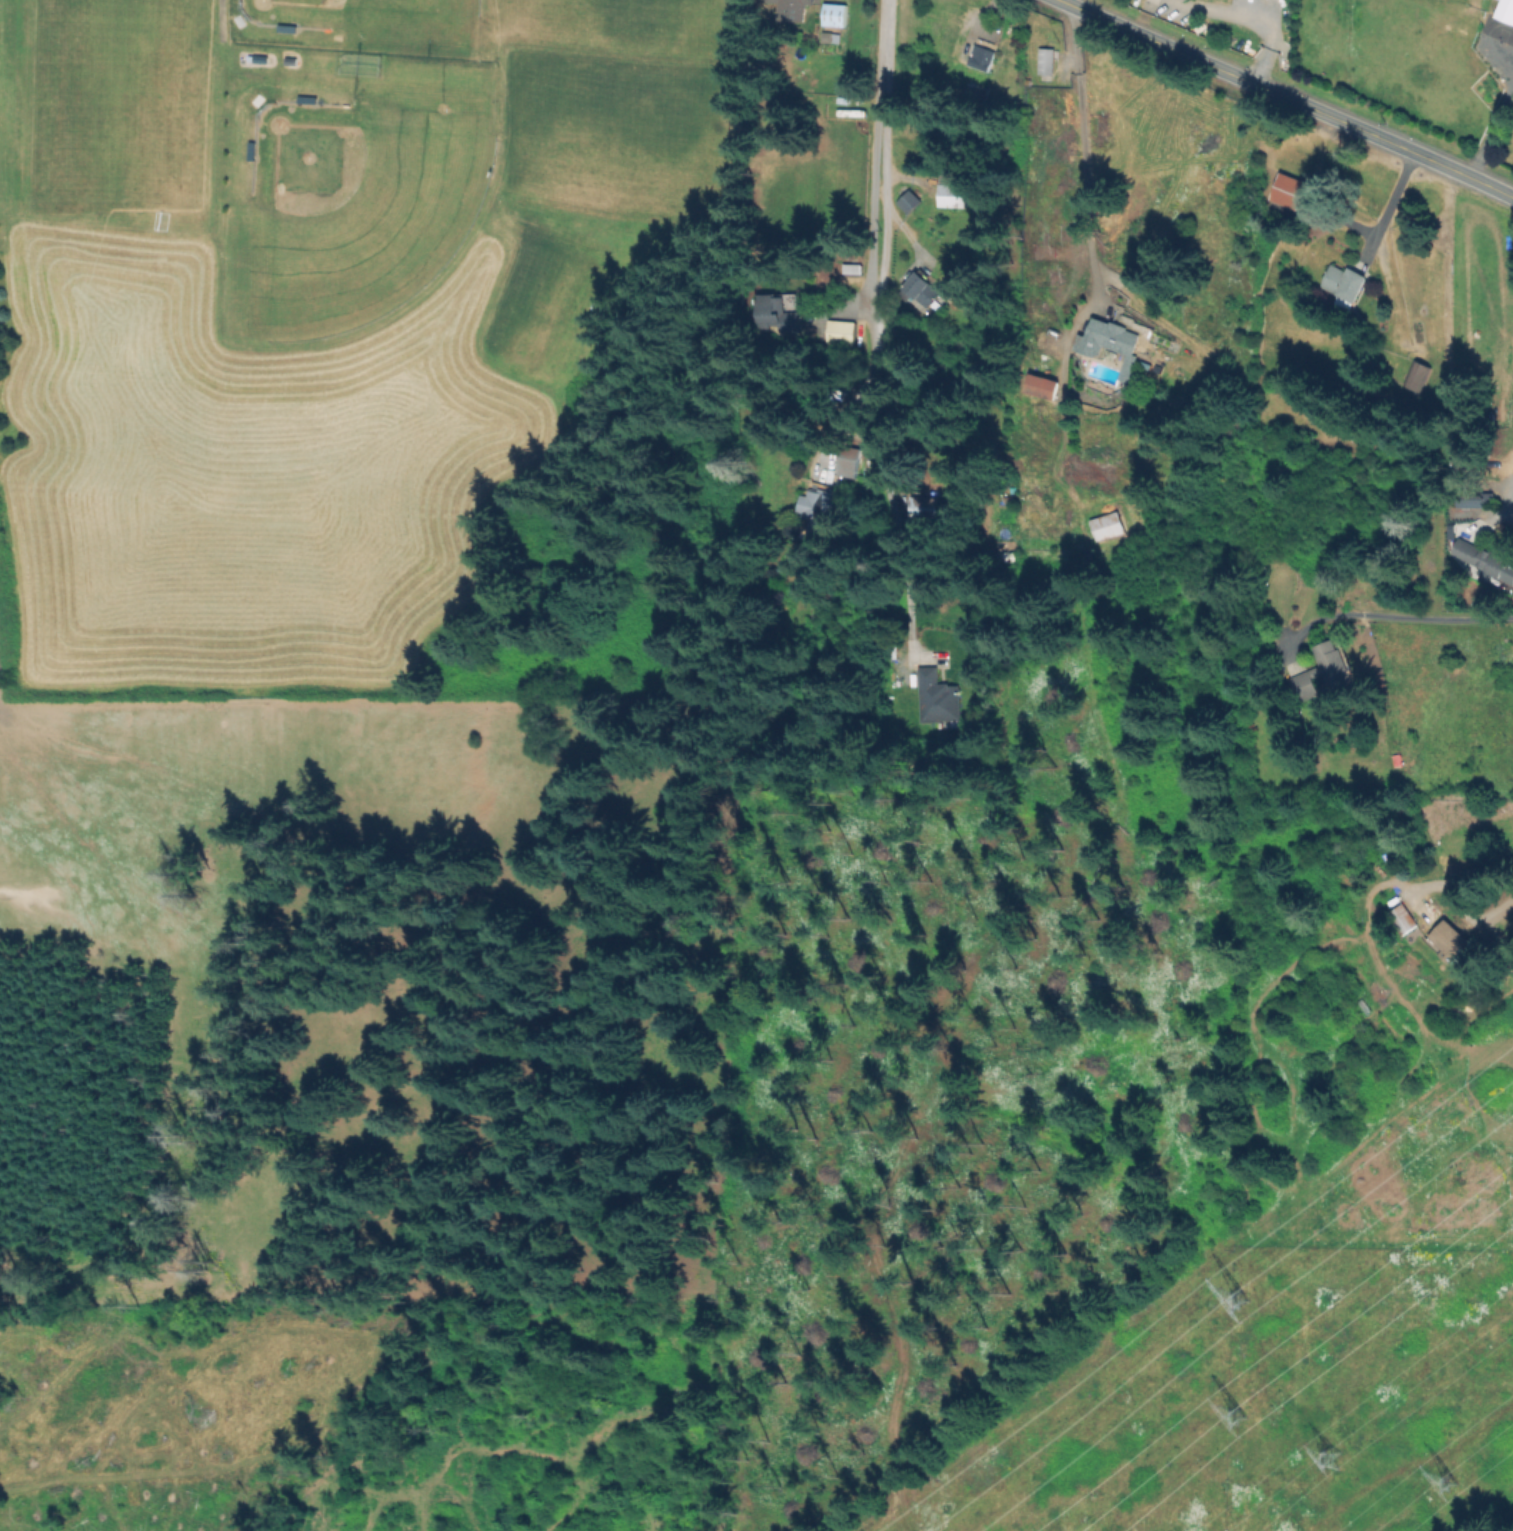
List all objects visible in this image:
building: (792, 9)
building: (1506, 10)
park: (376, 11)
road: (1251, 18)
building: (833, 21)
building: (1012, 22)
building: (288, 28)
building: (972, 55)
building: (262, 60)
building: (291, 61)
building: (1046, 61)
building: (976, 89)
road: (1287, 97)
building: (308, 100)
park: (115, 101)
road: (1487, 116)
road: (1082, 146)
building: (252, 151)
building: (952, 191)
building: (1289, 191)
park: (360, 195)
road: (886, 198)
building: (910, 202)
road: (1394, 206)
building: (854, 269)
building: (1344, 285)
building: (921, 288)
building: (782, 314)
road: (875, 319)
building: (842, 333)
building: (1114, 337)
building: (1490, 352)
building: (1125, 367)
building: (1418, 376)
building: (1044, 386)
building: (848, 460)
building: (1471, 499)
building: (926, 508)
road: (1500, 511)
building: (817, 514)
building: (1108, 526)
building: (1483, 558)
road: (1397, 616)
building: (1323, 672)
building: (938, 697)
building: (1398, 760)
road: (1502, 902)
building: (1428, 912)
building: (1401, 917)
building: (1490, 936)
building: (1449, 940)
power tower: (1234, 1302)
power tower: (1234, 1414)
power tower: (1331, 1462)
power tower: (1443, 1493)

